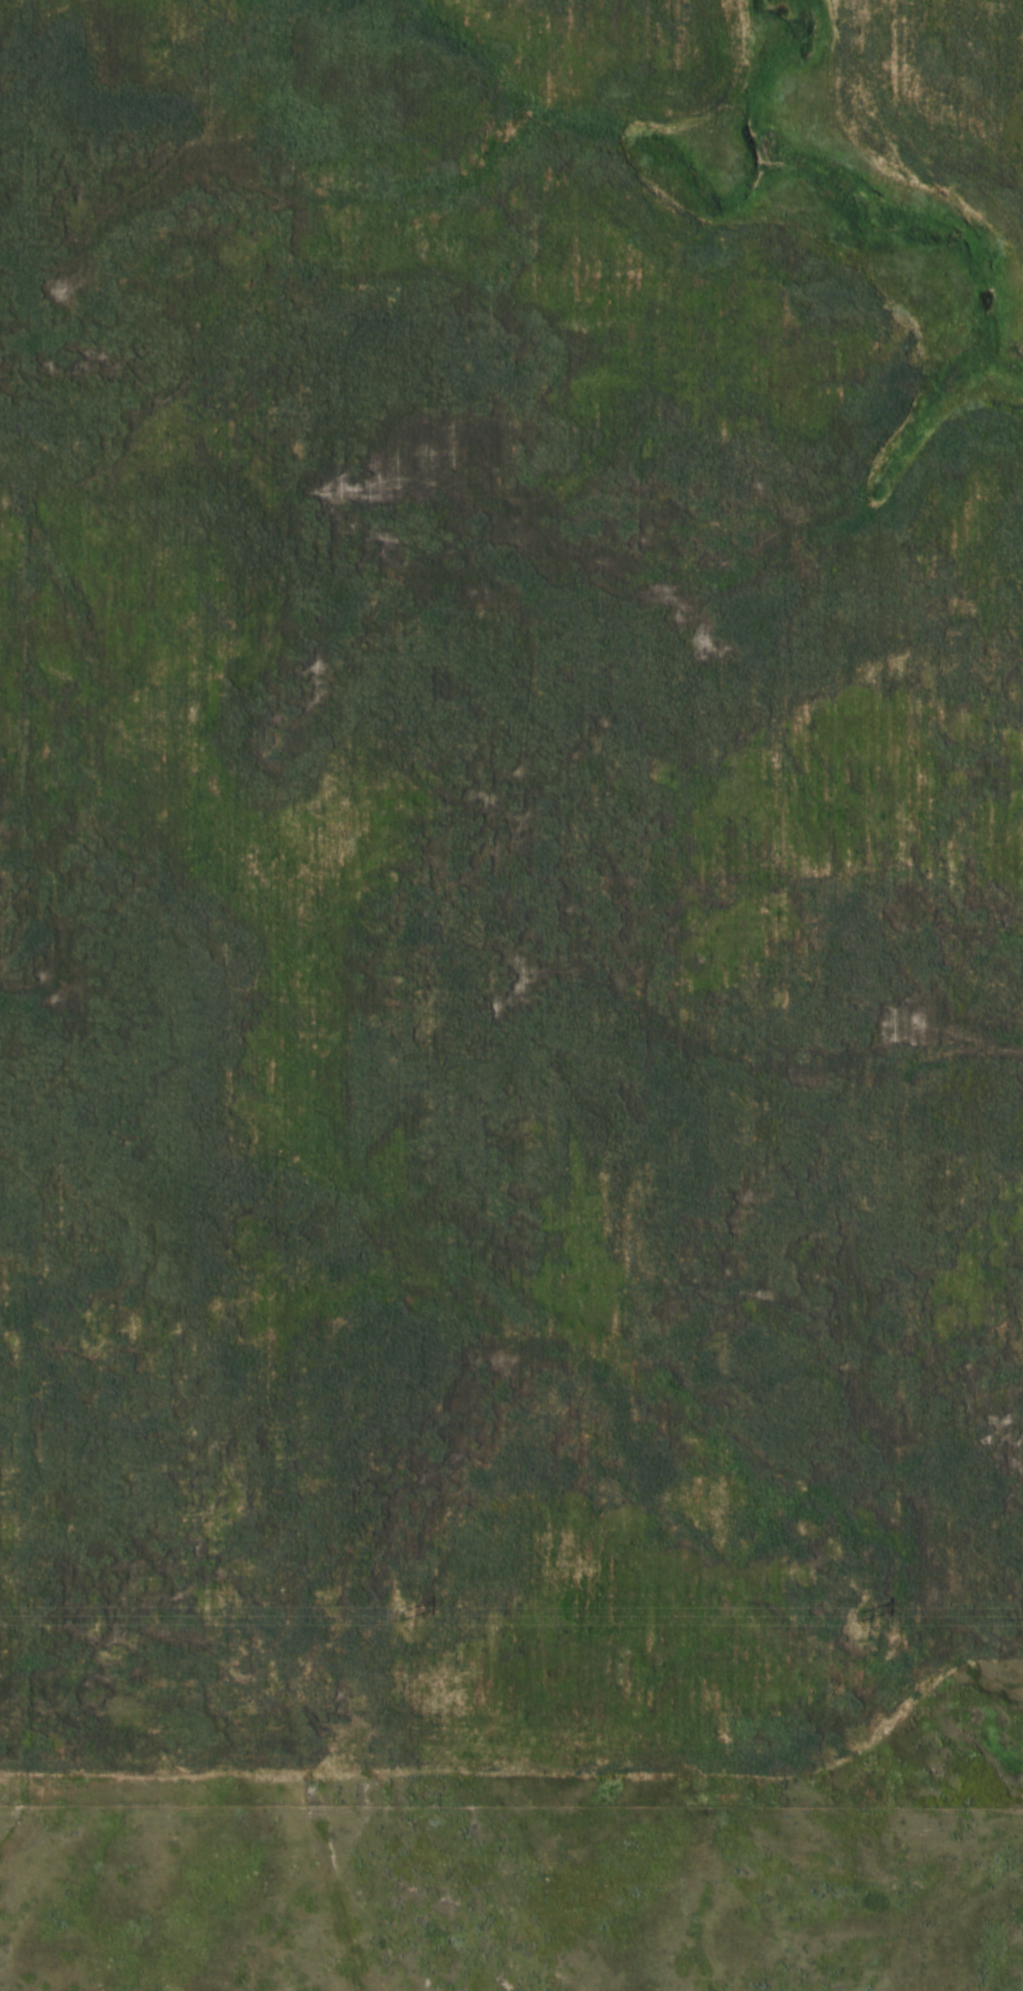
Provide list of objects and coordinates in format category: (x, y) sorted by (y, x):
power tower: (402, 1616)
power tower: (862, 1617)

